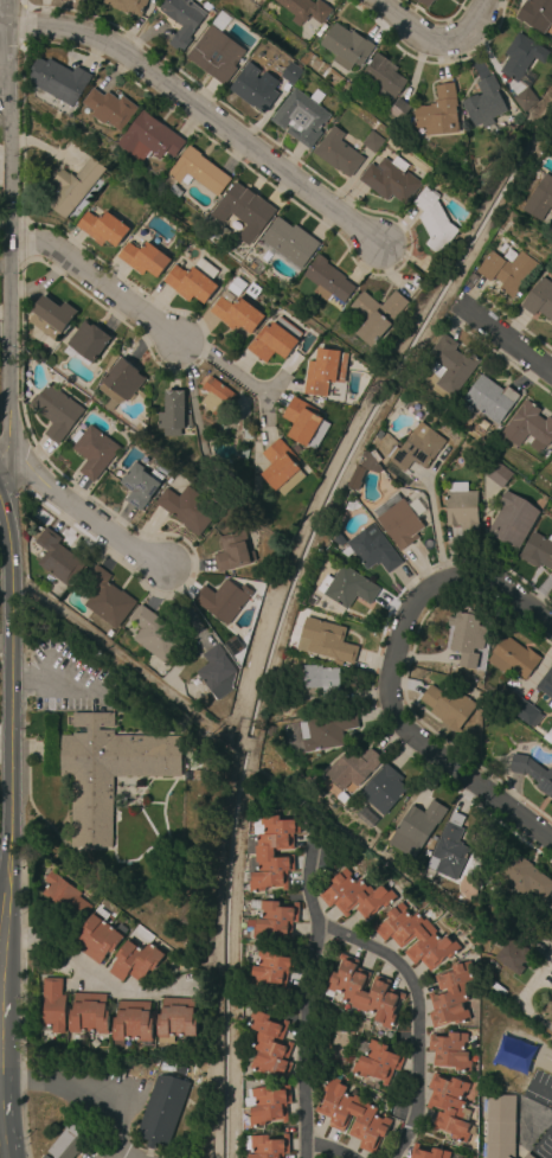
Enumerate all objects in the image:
building: (426, 2)
building: (127, 5)
building: (307, 9)
building: (535, 13)
road: (4, 14)
building: (181, 20)
building: (219, 21)
road: (432, 43)
building: (347, 46)
building: (214, 55)
building: (522, 59)
building: (290, 73)
building: (385, 76)
building: (59, 81)
building: (252, 88)
building: (525, 100)
building: (484, 103)
building: (110, 108)
building: (399, 110)
building: (439, 111)
road: (203, 114)
building: (301, 116)
building: (149, 139)
building: (372, 142)
building: (551, 143)
building: (551, 145)
building: (338, 153)
building: (199, 171)
building: (389, 180)
building: (72, 187)
building: (178, 191)
building: (540, 199)
building: (244, 207)
building: (434, 220)
building: (506, 224)
building: (103, 228)
road: (7, 235)
building: (288, 244)
building: (143, 258)
building: (507, 271)
building: (328, 280)
road: (97, 281)
building: (190, 283)
building: (252, 290)
building: (539, 299)
building: (236, 313)
building: (377, 314)
building: (50, 316)
road: (502, 337)
building: (274, 339)
building: (86, 343)
building: (451, 364)
road: (223, 365)
building: (323, 370)
building: (120, 383)
road: (268, 390)
building: (216, 397)
building: (490, 398)
building: (57, 412)
building: (172, 414)
building: (304, 423)
building: (140, 426)
building: (528, 426)
building: (248, 433)
building: (416, 447)
building: (92, 450)
building: (551, 461)
building: (551, 463)
building: (365, 466)
building: (282, 467)
building: (498, 474)
building: (139, 485)
building: (351, 505)
building: (187, 508)
building: (462, 511)
road: (82, 516)
building: (512, 519)
building: (404, 520)
road: (434, 525)
building: (339, 539)
building: (372, 549)
building: (233, 551)
building: (538, 551)
building: (56, 557)
road: (442, 581)
building: (347, 587)
building: (107, 599)
building: (223, 600)
building: (154, 634)
building: (467, 636)
building: (325, 640)
building: (233, 645)
road: (107, 652)
building: (512, 658)
building: (217, 671)
parking lot: (66, 677)
road: (56, 679)
building: (322, 682)
building: (546, 685)
building: (505, 697)
road: (9, 702)
building: (448, 705)
building: (526, 714)
building: (326, 730)
building: (548, 736)
building: (551, 743)
building: (192, 749)
road: (27, 754)
building: (353, 768)
building: (103, 769)
building: (532, 773)
road: (456, 774)
road: (161, 778)
building: (384, 789)
building: (130, 798)
road: (163, 798)
building: (342, 798)
building: (367, 818)
road: (163, 826)
building: (416, 828)
road: (150, 847)
road: (71, 849)
building: (448, 851)
building: (270, 853)
building: (524, 877)
building: (63, 896)
building: (354, 896)
building: (272, 920)
road: (1, 927)
building: (98, 936)
building: (426, 938)
building: (532, 938)
building: (512, 955)
building: (135, 960)
building: (270, 967)
road: (89, 977)
road: (306, 991)
building: (365, 992)
building: (450, 996)
road: (521, 1000)
building: (52, 1004)
building: (89, 1013)
road: (417, 1013)
building: (175, 1019)
building: (133, 1023)
building: (269, 1044)
building: (449, 1050)
building: (378, 1060)
building: (166, 1066)
building: (180, 1070)
parking lot: (539, 1085)
road: (85, 1086)
road: (541, 1086)
building: (269, 1105)
building: (449, 1107)
building: (162, 1109)
building: (336, 1115)
park: (537, 1117)
building: (500, 1126)
building: (69, 1141)
building: (267, 1146)
road: (328, 1146)
parking lot: (543, 1147)
building: (428, 1152)
road: (123, 1154)
building: (528, 1156)

